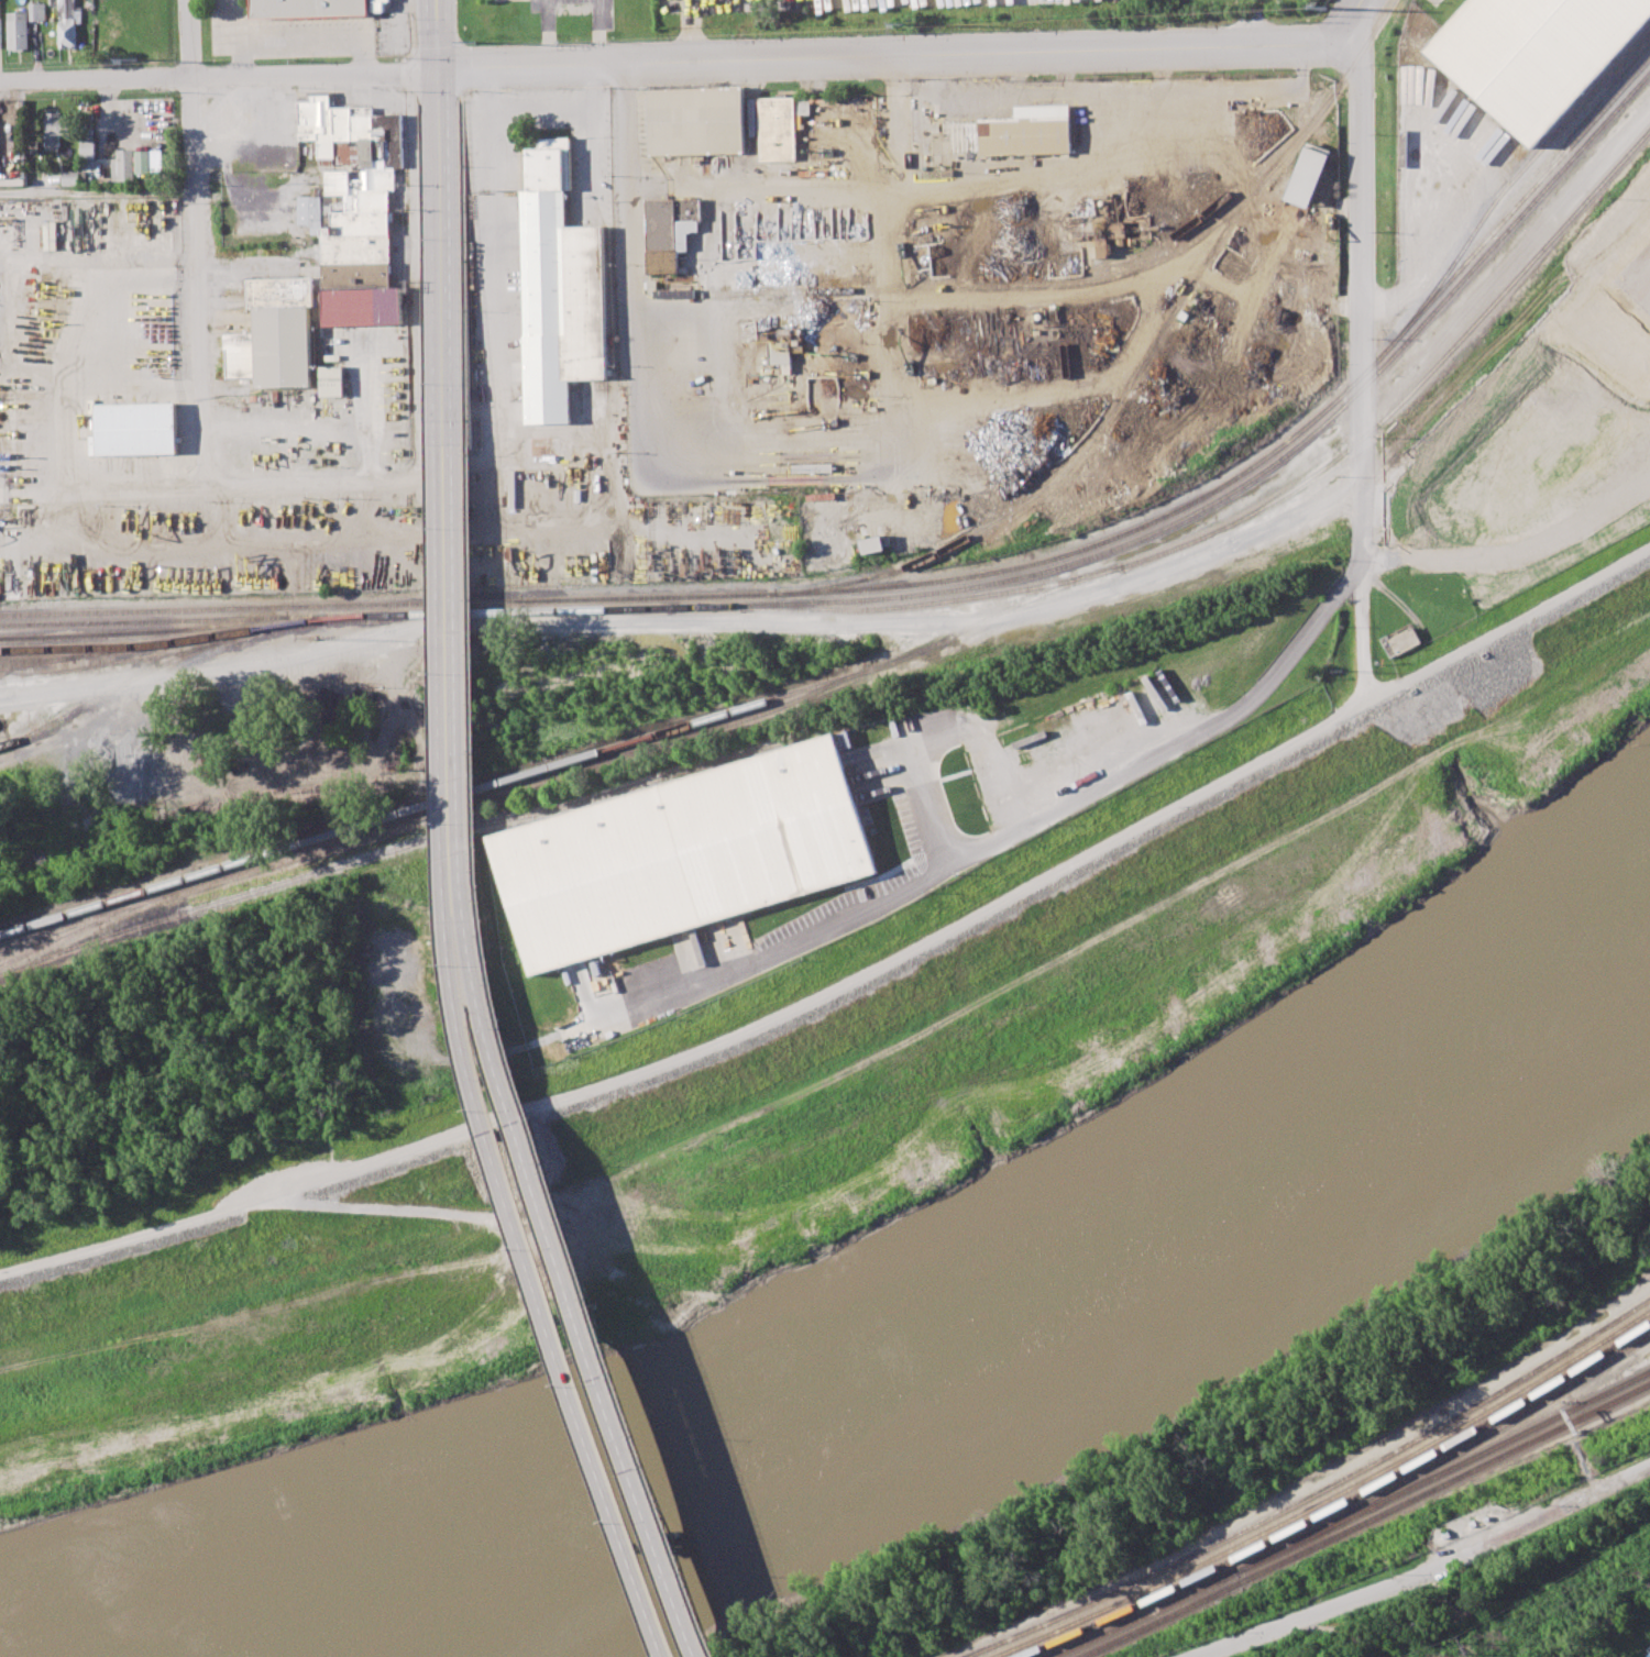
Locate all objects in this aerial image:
parking lot: (813, 3)
building: (378, 5)
power tower: (1325, 8)
building: (308, 9)
building: (38, 11)
road: (1349, 21)
building: (68, 23)
power tower: (906, 24)
building: (19, 30)
road: (547, 32)
road: (597, 32)
building: (1, 33)
road: (410, 33)
building: (91, 38)
road: (190, 38)
power tower: (476, 42)
road: (887, 55)
building: (1530, 55)
power tower: (137, 59)
road: (316, 73)
road: (400, 73)
railway: (1629, 77)
road: (96, 80)
road: (596, 87)
road: (400, 88)
road: (431, 90)
road: (899, 108)
road: (547, 111)
building: (697, 121)
building: (781, 126)
building: (58, 129)
building: (1028, 132)
building: (88, 148)
building: (155, 161)
building: (124, 166)
building: (377, 166)
building: (1308, 175)
building: (76, 177)
railway: (1234, 190)
road: (98, 192)
road: (441, 223)
building: (672, 230)
building: (356, 247)
road: (632, 250)
road: (506, 256)
road: (462, 269)
road: (415, 272)
building: (356, 274)
road: (200, 281)
railway: (1024, 286)
building: (559, 292)
building: (364, 306)
building: (282, 329)
building: (156, 334)
building: (779, 352)
building: (241, 355)
building: (1598, 364)
railway: (1140, 366)
road: (1361, 366)
building: (333, 380)
road: (1505, 385)
building: (134, 429)
road: (315, 480)
road: (105, 488)
railway: (1259, 510)
railway: (1175, 512)
railway: (1175, 523)
building: (872, 543)
railway: (1207, 590)
railway: (934, 604)
railway: (263, 609)
railway: (452, 609)
railway: (1083, 615)
railway: (263, 618)
road: (752, 623)
railway: (144, 633)
building: (1401, 641)
railway: (137, 648)
railway: (89, 650)
railway: (184, 652)
road: (452, 654)
railway: (34, 661)
road: (61, 693)
railway: (813, 694)
railway: (94, 697)
road: (938, 731)
railway: (376, 821)
road: (1021, 828)
railway: (378, 831)
railway: (416, 846)
building: (686, 855)
railway: (81, 930)
road: (856, 985)
road: (509, 1067)
road: (570, 1263)
road: (539, 1266)
river: (952, 1380)
railway: (1437, 1429)
railway: (1439, 1438)
railway: (1440, 1450)
railway: (1444, 1458)
railway: (1442, 1471)
railway: (1443, 1482)
road: (1431, 1570)
railway: (1091, 1602)
railway: (1107, 1606)
railway: (1121, 1611)
railway: (1142, 1615)
railway: (1158, 1620)
power tower: (1472, 1653)
building: (1649, 1656)

